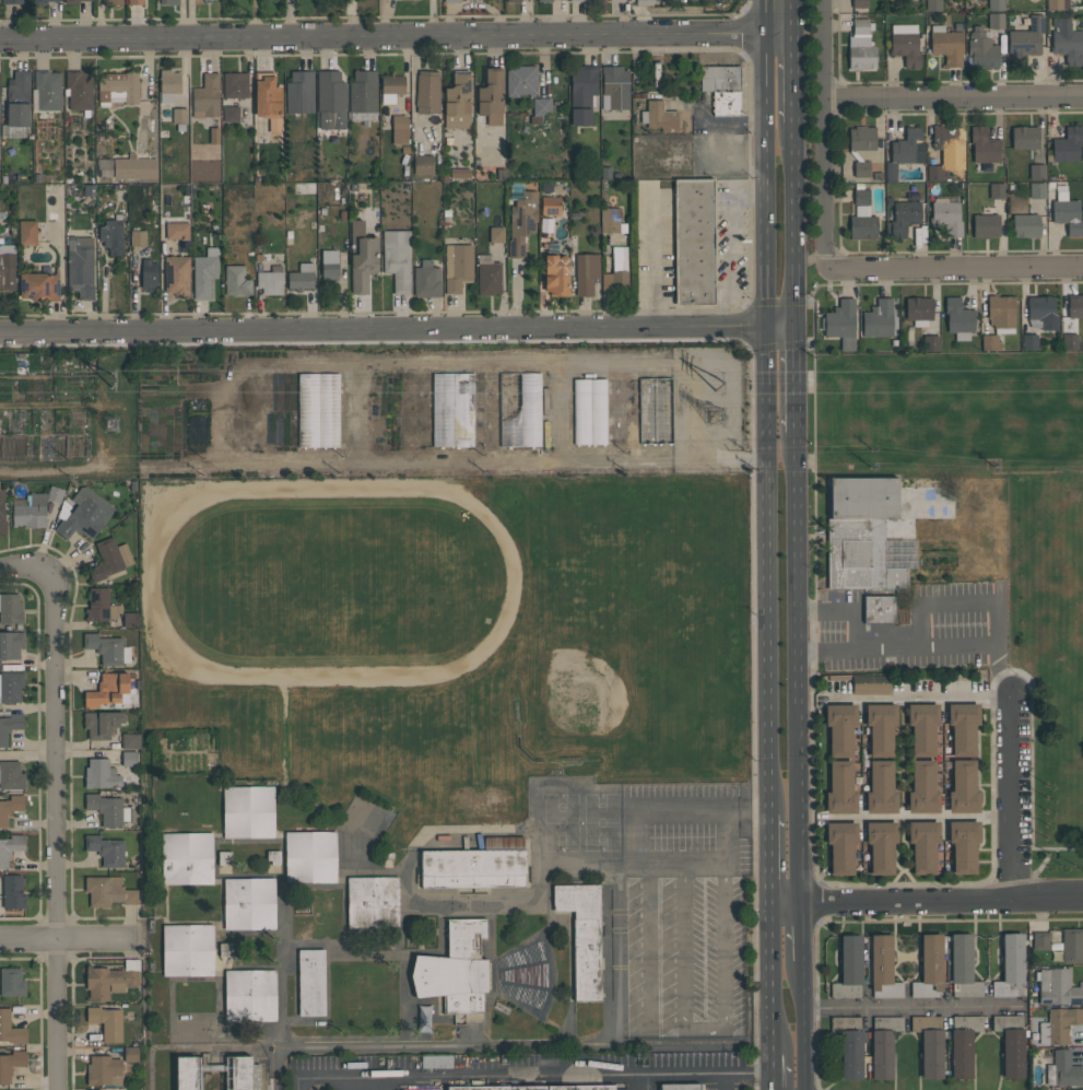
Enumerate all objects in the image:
building: (415, 0)
building: (476, 0)
building: (544, 0)
building: (578, 0)
building: (616, 0)
building: (909, 0)
building: (12, 1)
building: (43, 1)
building: (71, 1)
building: (207, 1)
building: (451, 1)
building: (514, 1)
building: (111, 2)
building: (136, 2)
building: (169, 2)
building: (644, 2)
building: (859, 3)
building: (996, 4)
building: (1057, 4)
road: (793, 17)
building: (996, 21)
building: (861, 26)
road: (396, 37)
building: (1025, 39)
building: (1067, 40)
building: (905, 44)
building: (946, 45)
building: (981, 49)
building: (860, 51)
road: (793, 79)
building: (520, 80)
road: (921, 81)
building: (168, 85)
building: (235, 85)
building: (117, 87)
building: (391, 87)
building: (721, 87)
building: (46, 91)
building: (79, 91)
building: (299, 92)
building: (427, 92)
building: (615, 92)
road: (765, 92)
building: (582, 93)
road: (951, 93)
building: (267, 95)
building: (363, 95)
building: (205, 96)
building: (491, 96)
building: (17, 98)
building: (331, 99)
building: (457, 102)
building: (541, 106)
building: (231, 114)
building: (179, 116)
building: (659, 117)
building: (274, 125)
building: (399, 130)
road: (821, 134)
building: (213, 136)
building: (1024, 137)
building: (861, 138)
building: (1067, 144)
building: (949, 145)
building: (984, 145)
building: (880, 151)
building: (905, 152)
building: (422, 165)
building: (134, 167)
building: (861, 168)
building: (1037, 172)
building: (935, 173)
building: (997, 190)
building: (1036, 190)
building: (551, 206)
building: (1066, 211)
building: (862, 214)
building: (905, 214)
building: (946, 214)
building: (521, 218)
building: (610, 220)
road: (794, 225)
building: (986, 225)
building: (1025, 225)
building: (177, 230)
building: (27, 233)
building: (496, 235)
building: (111, 236)
building: (138, 238)
building: (694, 242)
road: (733, 243)
road: (766, 256)
building: (362, 257)
road: (654, 258)
building: (397, 259)
building: (329, 265)
building: (7, 267)
building: (80, 267)
building: (457, 267)
road: (955, 267)
building: (616, 270)
building: (586, 272)
building: (204, 273)
building: (149, 274)
building: (176, 274)
building: (556, 274)
building: (301, 277)
building: (269, 278)
building: (488, 278)
building: (426, 279)
building: (236, 281)
building: (38, 286)
building: (1075, 305)
building: (918, 309)
building: (1001, 313)
building: (1041, 313)
building: (958, 318)
building: (878, 319)
building: (840, 324)
road: (751, 328)
traffic signals: (768, 328)
road: (782, 328)
road: (366, 329)
traffic signals: (797, 329)
building: (1070, 341)
road: (375, 342)
building: (990, 342)
building: (1029, 342)
building: (930, 343)
road: (779, 345)
power tower: (115, 379)
road: (797, 379)
power tower: (720, 380)
road: (361, 407)
building: (318, 410)
building: (452, 410)
building: (520, 410)
building: (589, 412)
power tower: (720, 417)
power tower: (111, 425)
building: (34, 507)
building: (2, 512)
building: (82, 514)
building: (866, 537)
park: (961, 541)
building: (109, 559)
road: (797, 566)
road: (769, 570)
road: (24, 574)
building: (101, 606)
building: (11, 609)
building: (879, 609)
road: (844, 610)
building: (10, 644)
road: (978, 647)
building: (107, 648)
road: (811, 663)
building: (10, 687)
building: (869, 688)
building: (109, 690)
road: (918, 699)
road: (979, 722)
building: (102, 723)
building: (10, 726)
building: (963, 727)
building: (880, 728)
building: (922, 728)
building: (840, 729)
building: (130, 741)
building: (129, 758)
road: (978, 765)
road: (902, 770)
building: (101, 774)
building: (11, 775)
building: (881, 788)
building: (922, 788)
building: (963, 788)
building: (840, 789)
road: (982, 799)
road: (1017, 799)
road: (1033, 799)
road: (798, 805)
building: (10, 807)
road: (701, 807)
building: (108, 809)
building: (247, 811)
road: (925, 817)
road: (52, 831)
road: (981, 841)
building: (923, 845)
building: (963, 845)
building: (881, 846)
building: (10, 847)
building: (840, 847)
road: (1069, 848)
building: (106, 849)
building: (310, 857)
building: (187, 858)
road: (772, 859)
road: (985, 860)
road: (707, 862)
building: (475, 864)
road: (896, 864)
road: (908, 865)
road: (823, 871)
building: (12, 891)
building: (107, 891)
building: (248, 903)
building: (372, 903)
road: (927, 903)
road: (801, 933)
building: (582, 935)
road: (63, 939)
road: (647, 939)
building: (1040, 940)
building: (1071, 945)
building: (188, 950)
building: (1010, 966)
building: (883, 968)
building: (929, 968)
building: (962, 968)
building: (455, 969)
building: (849, 969)
building: (110, 978)
road: (775, 980)
building: (12, 982)
building: (310, 983)
building: (1058, 987)
building: (249, 995)
road: (917, 1007)
building: (106, 1022)
road: (805, 1024)
building: (1059, 1024)
road: (705, 1025)
building: (10, 1029)
building: (929, 1044)
building: (963, 1044)
building: (1010, 1044)
building: (883, 1045)
building: (130, 1054)
building: (850, 1054)
building: (436, 1062)
building: (10, 1064)
building: (104, 1070)
building: (1063, 1070)
road: (777, 1071)
road: (531, 1075)
building: (238, 1080)
road: (723, 1081)
building: (532, 1087)
building: (680, 1087)
building: (1074, 1089)

